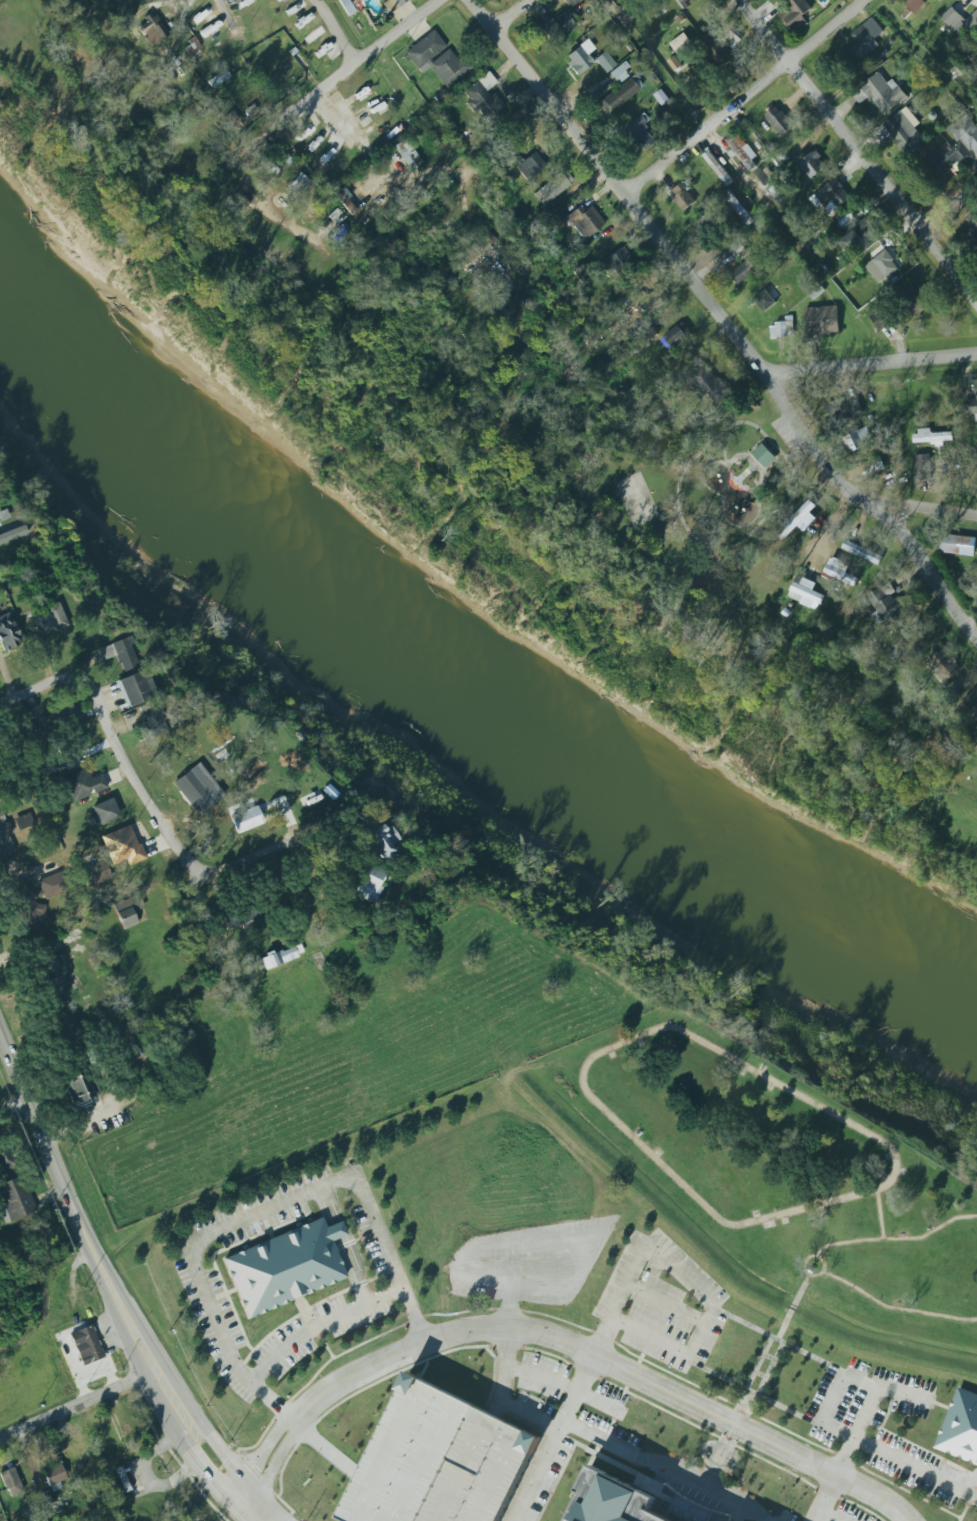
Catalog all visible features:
building: (378, 0)
building: (939, 0)
building: (571, 2)
building: (681, 2)
building: (391, 4)
building: (915, 5)
building: (347, 7)
building: (796, 7)
road: (509, 15)
building: (959, 21)
building: (556, 26)
building: (152, 29)
road: (335, 29)
building: (866, 38)
building: (681, 43)
building: (190, 46)
building: (716, 49)
building: (579, 57)
building: (436, 58)
building: (604, 62)
building: (675, 63)
road: (654, 65)
building: (619, 71)
building: (884, 93)
building: (618, 94)
building: (482, 97)
building: (662, 97)
road: (746, 98)
building: (251, 112)
building: (233, 121)
building: (779, 121)
building: (635, 131)
building: (904, 132)
building: (966, 132)
building: (743, 150)
road: (859, 151)
building: (407, 154)
building: (946, 160)
road: (734, 162)
building: (278, 163)
building: (526, 163)
building: (813, 164)
building: (718, 168)
building: (770, 182)
building: (299, 183)
building: (551, 186)
building: (683, 194)
building: (830, 196)
road: (948, 204)
building: (741, 207)
building: (846, 218)
building: (584, 221)
building: (708, 221)
building: (973, 223)
road: (288, 225)
building: (490, 236)
building: (857, 236)
building: (738, 249)
building: (467, 252)
building: (615, 261)
building: (884, 265)
building: (745, 270)
building: (766, 295)
building: (913, 300)
building: (647, 302)
building: (881, 319)
building: (822, 320)
road: (726, 321)
building: (783, 328)
building: (675, 336)
road: (870, 364)
building: (709, 383)
building: (971, 406)
building: (844, 409)
parking lot: (792, 436)
building: (932, 437)
building: (859, 439)
road: (722, 448)
building: (764, 455)
road: (788, 456)
building: (877, 464)
building: (923, 466)
road: (747, 473)
road: (678, 484)
park: (636, 499)
road: (723, 503)
road: (930, 512)
building: (3, 515)
building: (799, 520)
building: (957, 544)
building: (862, 552)
building: (841, 572)
building: (806, 591)
building: (887, 604)
building: (52, 620)
building: (7, 633)
river: (466, 661)
building: (945, 665)
building: (125, 670)
road: (56, 683)
building: (971, 702)
building: (64, 716)
building: (153, 719)
building: (82, 784)
building: (254, 784)
building: (195, 791)
building: (105, 812)
building: (252, 817)
building: (24, 821)
building: (4, 827)
building: (380, 841)
building: (122, 846)
road: (187, 864)
building: (95, 873)
road: (22, 875)
building: (366, 882)
building: (52, 885)
building: (127, 911)
building: (35, 916)
building: (281, 956)
road: (721, 1051)
building: (78, 1090)
road: (16, 1112)
building: (6, 1159)
building: (16, 1199)
road: (259, 1212)
road: (880, 1214)
road: (265, 1221)
road: (84, 1234)
road: (897, 1238)
road: (353, 1242)
road: (343, 1245)
road: (594, 1247)
road: (214, 1254)
road: (812, 1256)
parking lot: (526, 1264)
building: (283, 1268)
road: (331, 1296)
road: (216, 1297)
road: (510, 1303)
parking lot: (662, 1304)
road: (665, 1304)
road: (793, 1307)
road: (895, 1307)
road: (319, 1325)
road: (701, 1330)
road: (319, 1334)
road: (778, 1340)
building: (83, 1347)
road: (769, 1356)
road: (606, 1360)
road: (758, 1362)
road: (652, 1363)
road: (770, 1368)
road: (505, 1371)
road: (632, 1374)
road: (760, 1374)
road: (841, 1381)
road: (579, 1383)
road: (567, 1386)
road: (753, 1393)
parking lot: (576, 1396)
road: (77, 1404)
road: (529, 1414)
road: (739, 1416)
road: (698, 1426)
building: (961, 1427)
road: (858, 1429)
parking lot: (886, 1429)
road: (226, 1458)
road: (248, 1458)
road: (899, 1459)
building: (439, 1461)
road: (668, 1462)
road: (259, 1464)
road: (270, 1469)
parking lot: (480, 1471)
road: (142, 1472)
building: (54, 1476)
road: (205, 1478)
parking lot: (551, 1480)
building: (11, 1482)
building: (620, 1502)
road: (273, 1508)
road: (966, 1508)
parking lot: (855, 1511)
road: (829, 1515)

